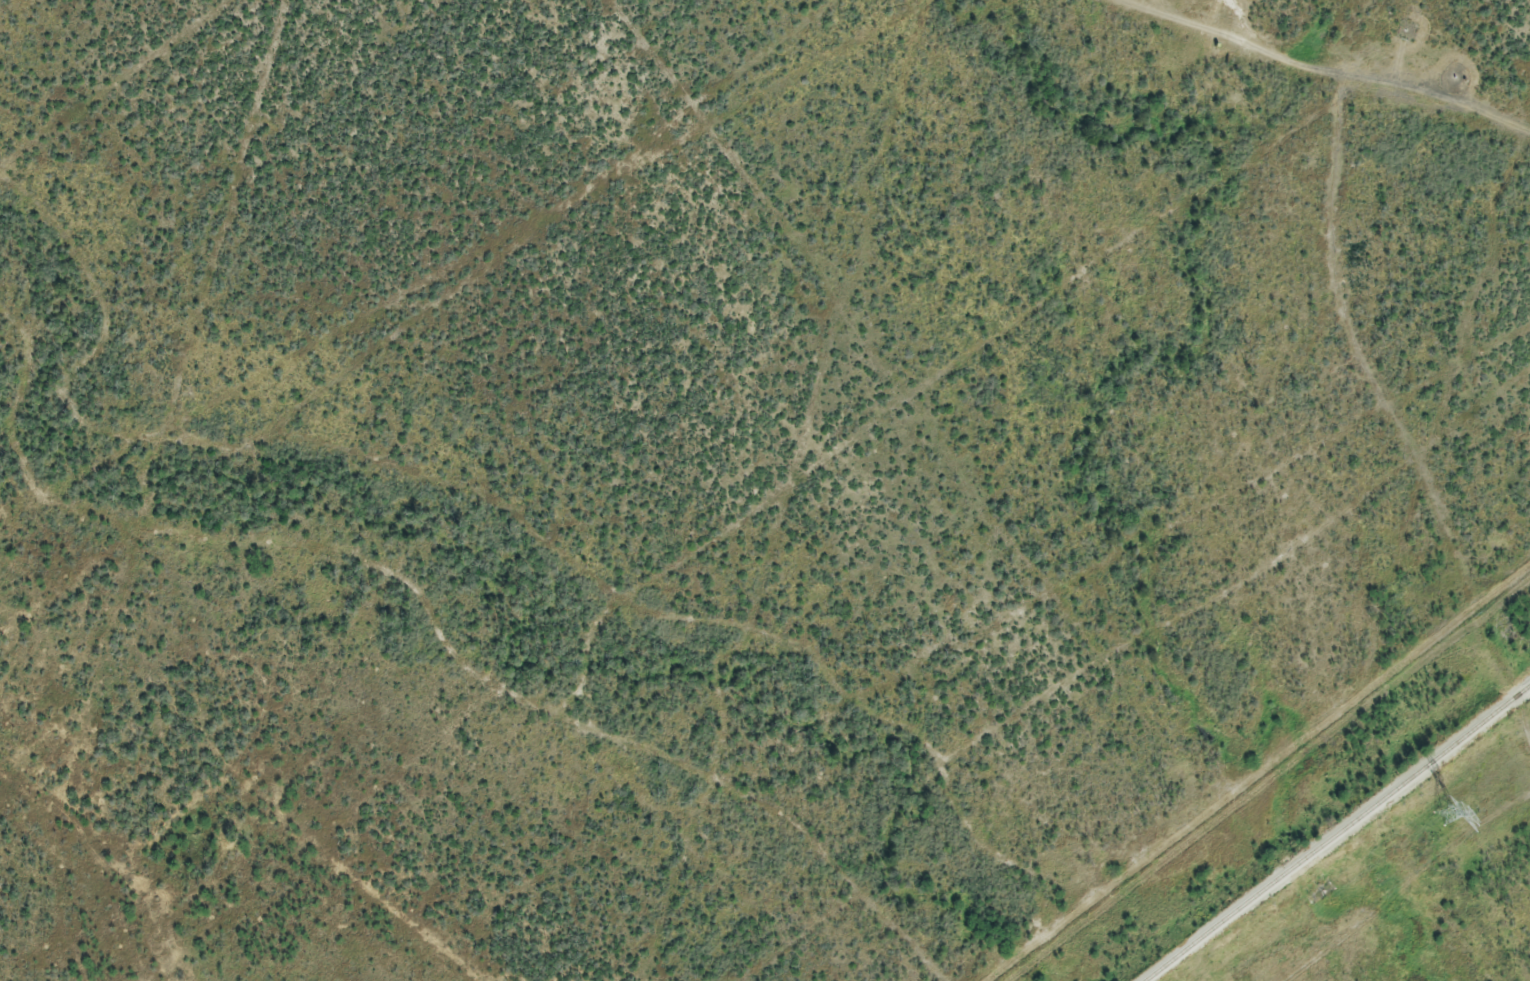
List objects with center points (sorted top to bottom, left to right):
power tower: (1448, 814)
railway: (1336, 831)

